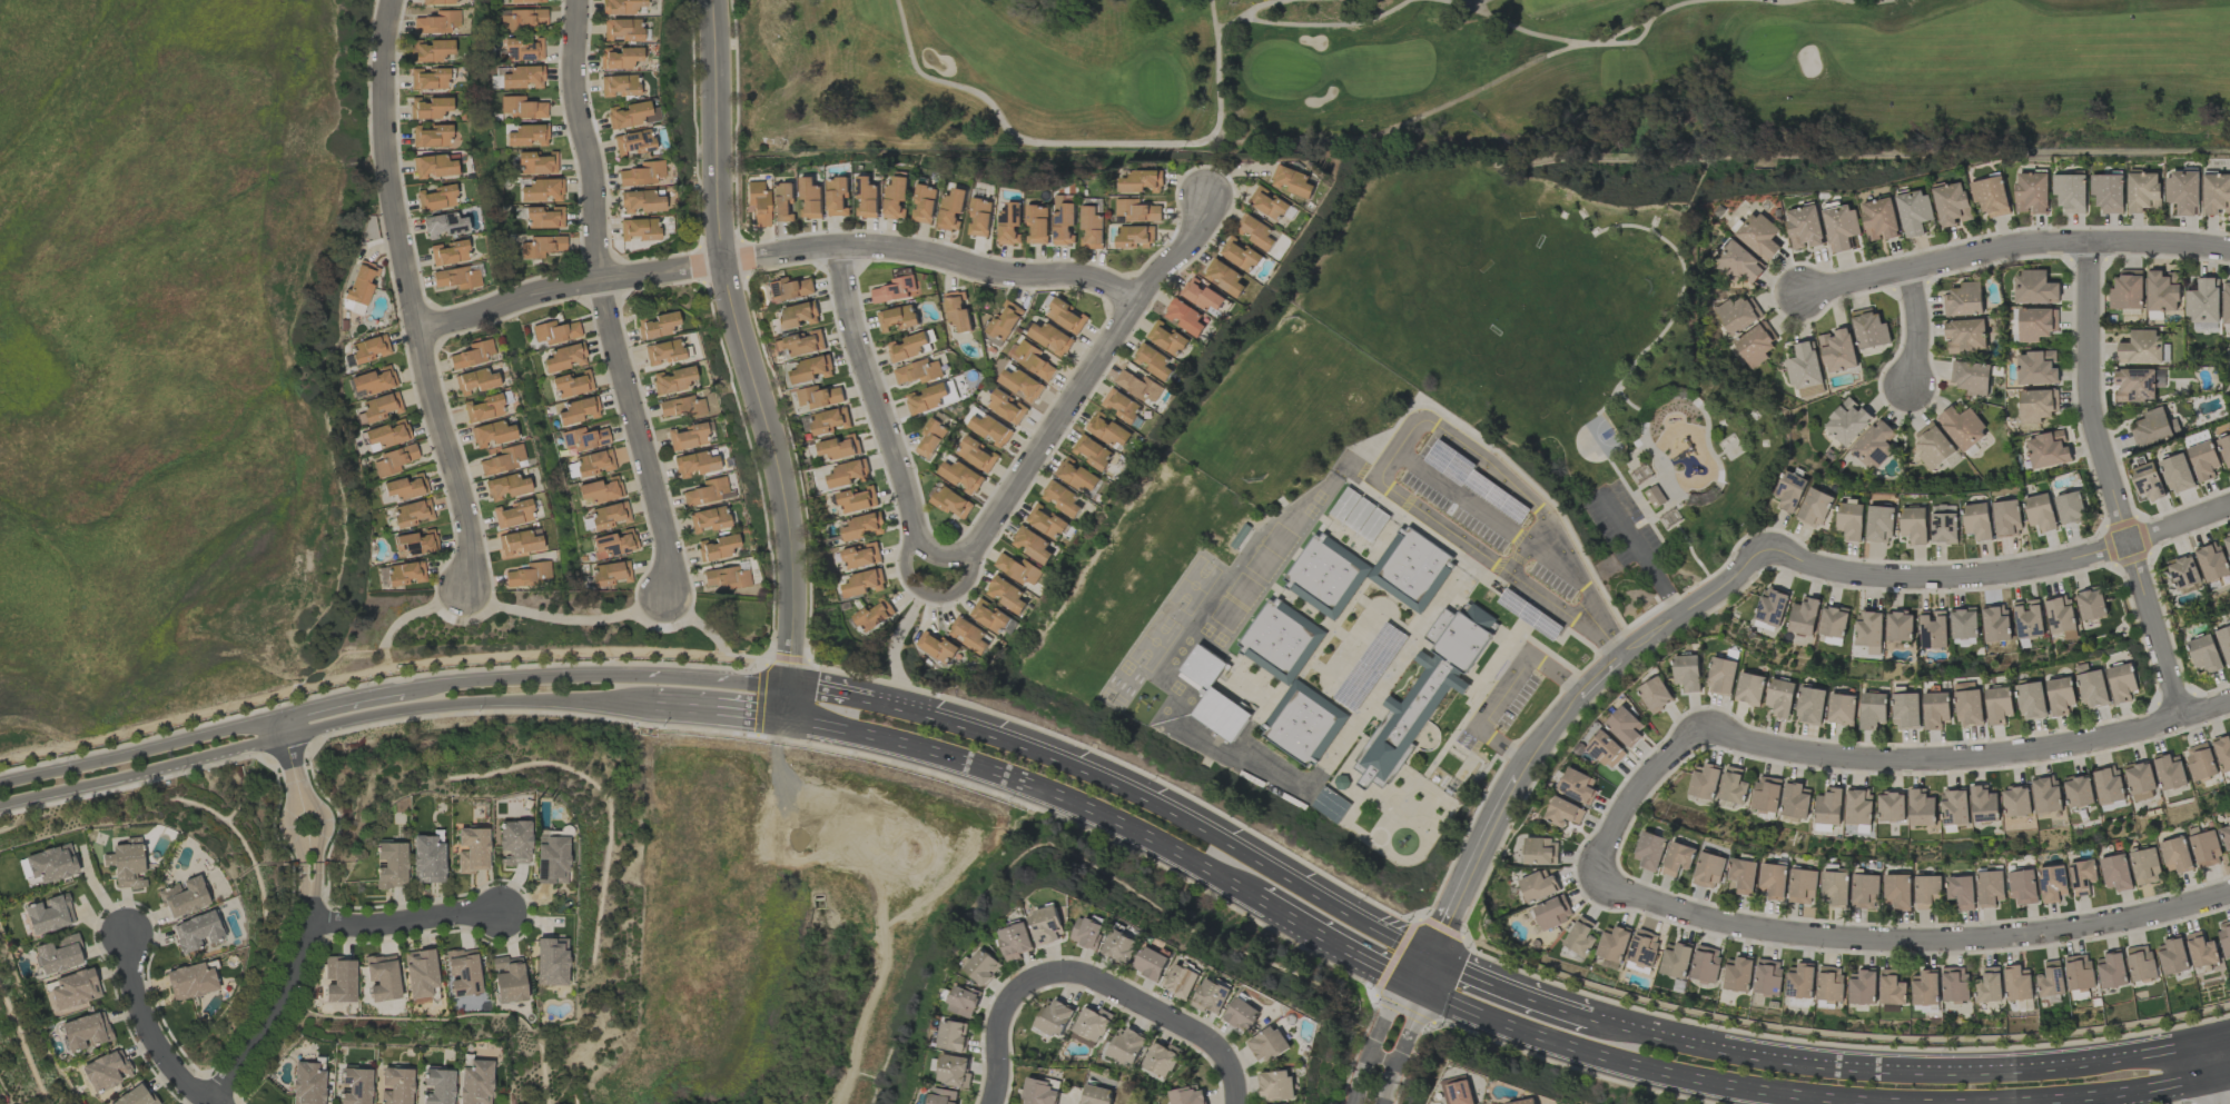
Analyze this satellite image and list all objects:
building: (437, 1)
building: (524, 1)
building: (620, 6)
building: (522, 18)
building: (436, 22)
building: (620, 29)
building: (523, 49)
building: (430, 50)
building: (619, 58)
park: (1480, 76)
building: (522, 77)
building: (428, 78)
building: (618, 84)
building: (428, 107)
building: (522, 107)
building: (631, 115)
building: (526, 135)
building: (431, 136)
building: (632, 142)
building: (535, 162)
building: (434, 165)
building: (641, 173)
building: (1142, 181)
building: (1291, 181)
building: (541, 190)
building: (2032, 192)
building: (2070, 192)
building: (2108, 192)
building: (2143, 192)
building: (2183, 192)
building: (2216, 193)
building: (837, 196)
building: (1991, 196)
building: (896, 197)
building: (436, 198)
building: (810, 198)
building: (867, 198)
building: (641, 200)
building: (757, 202)
building: (782, 202)
building: (1267, 203)
building: (924, 205)
building: (1952, 205)
building: (951, 209)
building: (1136, 211)
building: (1914, 212)
building: (543, 217)
building: (980, 218)
building: (1879, 219)
building: (1064, 220)
building: (443, 225)
building: (1010, 225)
building: (1037, 225)
building: (1091, 227)
building: (1804, 227)
building: (1841, 227)
building: (637, 228)
building: (1256, 232)
building: (1759, 236)
building: (1134, 237)
road: (2012, 245)
building: (541, 246)
building: (447, 252)
road: (777, 252)
building: (1240, 256)
building: (1739, 263)
building: (455, 277)
building: (1225, 278)
building: (361, 281)
building: (2035, 288)
building: (788, 289)
building: (896, 289)
building: (2127, 290)
building: (2162, 291)
road: (411, 295)
building: (1202, 295)
building: (1963, 300)
road: (603, 301)
building: (2203, 301)
park: (1486, 302)
building: (2226, 302)
building: (352, 307)
building: (957, 311)
building: (1737, 315)
building: (797, 316)
building: (1065, 316)
building: (1186, 317)
building: (897, 319)
building: (1005, 320)
building: (2036, 324)
building: (657, 325)
road: (1914, 327)
building: (1868, 329)
building: (554, 331)
building: (1965, 336)
building: (1049, 338)
building: (1167, 340)
building: (801, 344)
building: (1755, 344)
building: (908, 347)
building: (368, 348)
building: (2140, 348)
park: (1553, 349)
building: (1838, 350)
building: (661, 351)
building: (472, 354)
building: (563, 357)
building: (1032, 359)
building: (1153, 361)
road: (742, 362)
building: (1804, 366)
building: (2036, 368)
building: (811, 369)
building: (918, 371)
building: (1971, 378)
building: (2159, 378)
building: (671, 379)
building: (373, 381)
building: (474, 381)
building: (571, 384)
building: (1020, 384)
building: (2134, 385)
road: (1079, 387)
building: (1139, 387)
building: (818, 397)
building: (927, 398)
road: (879, 405)
building: (2037, 405)
building: (1121, 406)
building: (378, 407)
building: (679, 407)
building: (1006, 407)
building: (483, 408)
building: (578, 410)
building: (830, 420)
building: (1847, 421)
building: (987, 426)
building: (1962, 427)
building: (2153, 428)
building: (1108, 430)
building: (386, 434)
building: (491, 434)
building: (685, 436)
road: (1402, 437)
building: (583, 438)
building: (931, 438)
building: (1874, 445)
building: (1932, 446)
building: (839, 447)
building: (2048, 449)
building: (2224, 450)
building: (1092, 452)
building: (976, 455)
building: (501, 459)
building: (392, 460)
building: (2203, 460)
building: (694, 463)
building: (590, 464)
building: (848, 474)
building: (2177, 474)
building: (1077, 476)
building: (2148, 481)
road: (2108, 483)
building: (405, 486)
building: (505, 486)
building: (600, 489)
building: (705, 491)
building: (1789, 491)
building: (1062, 498)
building: (857, 500)
building: (951, 503)
building: (1815, 508)
building: (2069, 508)
building: (411, 513)
building: (2041, 513)
building: (512, 514)
building: (609, 515)
building: (2006, 518)
building: (707, 519)
building: (1851, 520)
building: (1977, 521)
building: (1046, 523)
building: (1881, 524)
building: (1944, 524)
building: (1914, 525)
building: (862, 527)
building: (414, 543)
building: (517, 543)
building: (613, 544)
building: (2227, 544)
building: (1032, 545)
building: (716, 547)
road: (1639, 555)
building: (860, 556)
road: (1470, 559)
building: (2211, 561)
building: (1019, 569)
road: (1999, 569)
building: (2183, 571)
building: (404, 573)
building: (609, 573)
building: (1369, 573)
building: (524, 575)
building: (726, 577)
building: (862, 584)
building: (1007, 595)
building: (2090, 605)
building: (1769, 608)
building: (874, 615)
building: (2059, 615)
building: (1804, 616)
building: (989, 617)
road: (570, 619)
building: (2027, 619)
building: (1833, 621)
building: (1963, 624)
building: (1995, 624)
building: (1898, 626)
building: (1868, 631)
building: (968, 635)
road: (1602, 635)
building: (1280, 640)
building: (2224, 643)
building: (936, 647)
road: (541, 652)
building: (2204, 654)
building: (1370, 667)
road: (759, 670)
building: (1687, 673)
building: (1721, 676)
road: (726, 682)
building: (2122, 683)
road: (1503, 688)
building: (1750, 688)
building: (2092, 688)
building: (1425, 689)
building: (1655, 694)
building: (2060, 695)
building: (1214, 696)
building: (1780, 697)
building: (2031, 699)
road: (850, 702)
building: (1968, 704)
building: (1999, 705)
road: (329, 706)
building: (1810, 706)
building: (1842, 708)
building: (1873, 710)
building: (1936, 710)
building: (1906, 712)
road: (720, 714)
road: (190, 715)
road: (327, 724)
building: (1302, 724)
building: (1625, 725)
road: (1350, 732)
road: (1547, 732)
building: (1605, 750)
building: (2222, 753)
road: (1967, 755)
road: (288, 760)
building: (2200, 762)
building: (2169, 773)
building: (2140, 780)
building: (1704, 782)
building: (2109, 785)
building: (1577, 786)
building: (1733, 786)
road: (1024, 787)
road: (1630, 792)
building: (2078, 792)
building: (1766, 794)
building: (2046, 795)
building: (1795, 799)
building: (2016, 802)
building: (1330, 805)
building: (1983, 805)
building: (1828, 806)
building: (1857, 806)
building: (1892, 806)
building: (1921, 808)
building: (1954, 808)
building: (1563, 812)
road: (287, 815)
road: (1178, 819)
building: (2226, 836)
building: (513, 841)
building: (2204, 847)
building: (471, 849)
building: (1650, 851)
road: (299, 852)
road: (316, 852)
building: (1540, 852)
building: (2175, 855)
building: (1678, 858)
building: (426, 859)
building: (550, 859)
building: (50, 863)
building: (127, 864)
building: (389, 864)
building: (2144, 865)
building: (1708, 871)
building: (2116, 873)
building: (1743, 875)
building: (2082, 877)
road: (302, 878)
road: (315, 879)
building: (1773, 881)
building: (2052, 883)
building: (1802, 885)
building: (1538, 886)
building: (1836, 886)
building: (2023, 887)
building: (1990, 888)
building: (1865, 891)
building: (1927, 891)
building: (1897, 892)
building: (1961, 892)
building: (182, 896)
building: (1552, 912)
building: (48, 914)
road: (403, 921)
building: (1047, 925)
building: (196, 931)
building: (1087, 933)
building: (1580, 937)
building: (2224, 937)
road: (1906, 938)
building: (1016, 941)
road: (1335, 941)
building: (1612, 944)
building: (1121, 946)
building: (2200, 949)
building: (1642, 951)
building: (58, 954)
building: (2171, 956)
building: (1676, 959)
building: (550, 961)
building: (1152, 963)
building: (2140, 963)
building: (1705, 964)
building: (984, 966)
building: (2111, 971)
building: (462, 972)
building: (2079, 972)
building: (420, 973)
building: (1737, 974)
building: (381, 977)
building: (1767, 977)
building: (507, 978)
building: (338, 979)
building: (2051, 979)
building: (189, 981)
building: (1182, 981)
building: (1799, 981)
building: (2017, 983)
building: (1954, 984)
building: (1989, 985)
building: (1862, 987)
building: (75, 988)
building: (1891, 988)
building: (1924, 988)
building: (1211, 996)
road: (1511, 997)
building: (964, 1002)
road: (274, 1007)
building: (1242, 1015)
road: (1166, 1016)
building: (1053, 1017)
building: (1092, 1024)
road: (145, 1027)
road: (1003, 1027)
building: (85, 1031)
building: (954, 1035)
road: (2220, 1041)
road: (1389, 1042)
building: (1267, 1044)
building: (1125, 1045)
building: (1161, 1058)
road: (1778, 1058)
road: (2216, 1061)
road: (1625, 1062)
road: (2086, 1063)
building: (102, 1071)
building: (954, 1071)
road: (2226, 1076)
building: (474, 1082)
road: (2226, 1083)
building: (307, 1084)
building: (355, 1085)
building: (395, 1085)
building: (436, 1086)
building: (1276, 1086)
road: (2214, 1091)
building: (1039, 1092)
building: (1459, 1093)
road: (2137, 1094)
building: (1096, 1095)
building: (1186, 1095)
building: (134, 1096)
building: (943, 1096)
building: (1523, 1102)

